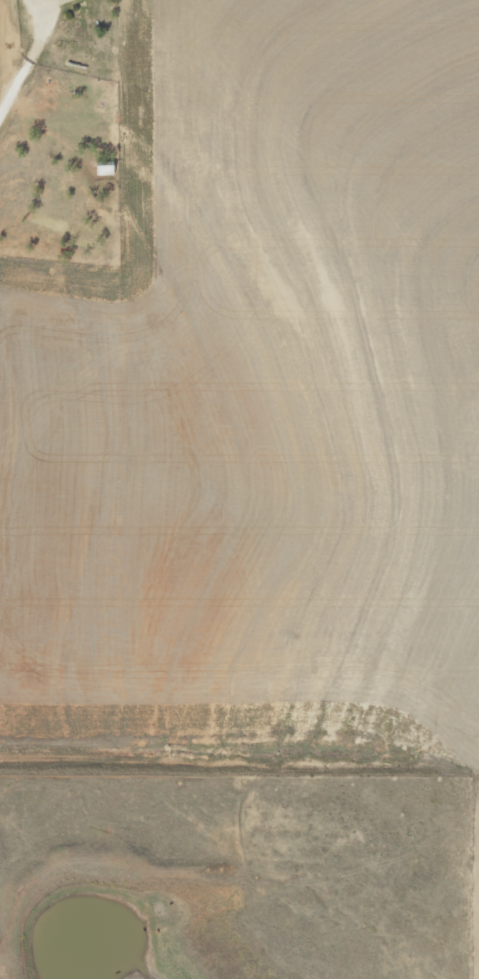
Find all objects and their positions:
road: (21, 38)

